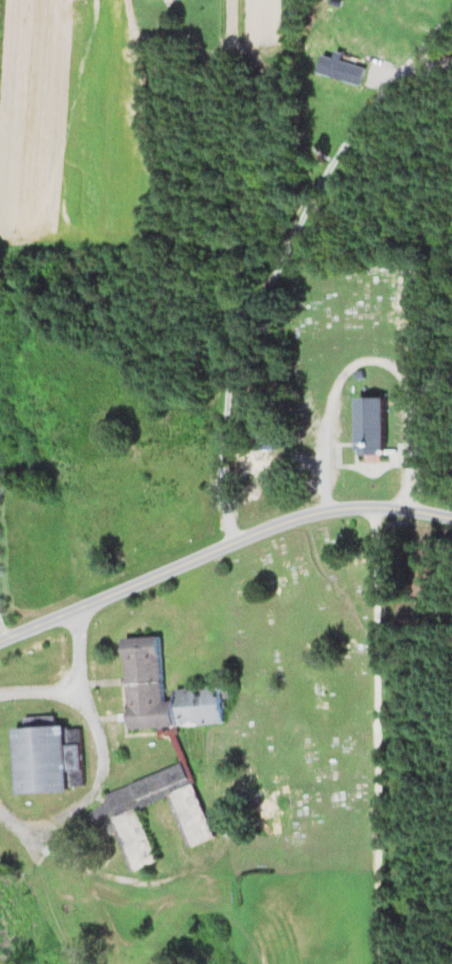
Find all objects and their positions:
road: (284, 256)
road: (368, 361)
building: (377, 427)
road: (220, 546)
road: (3, 630)
building: (146, 664)
road: (40, 691)
road: (373, 734)
building: (194, 748)
road: (101, 754)
building: (53, 760)
building: (117, 820)

